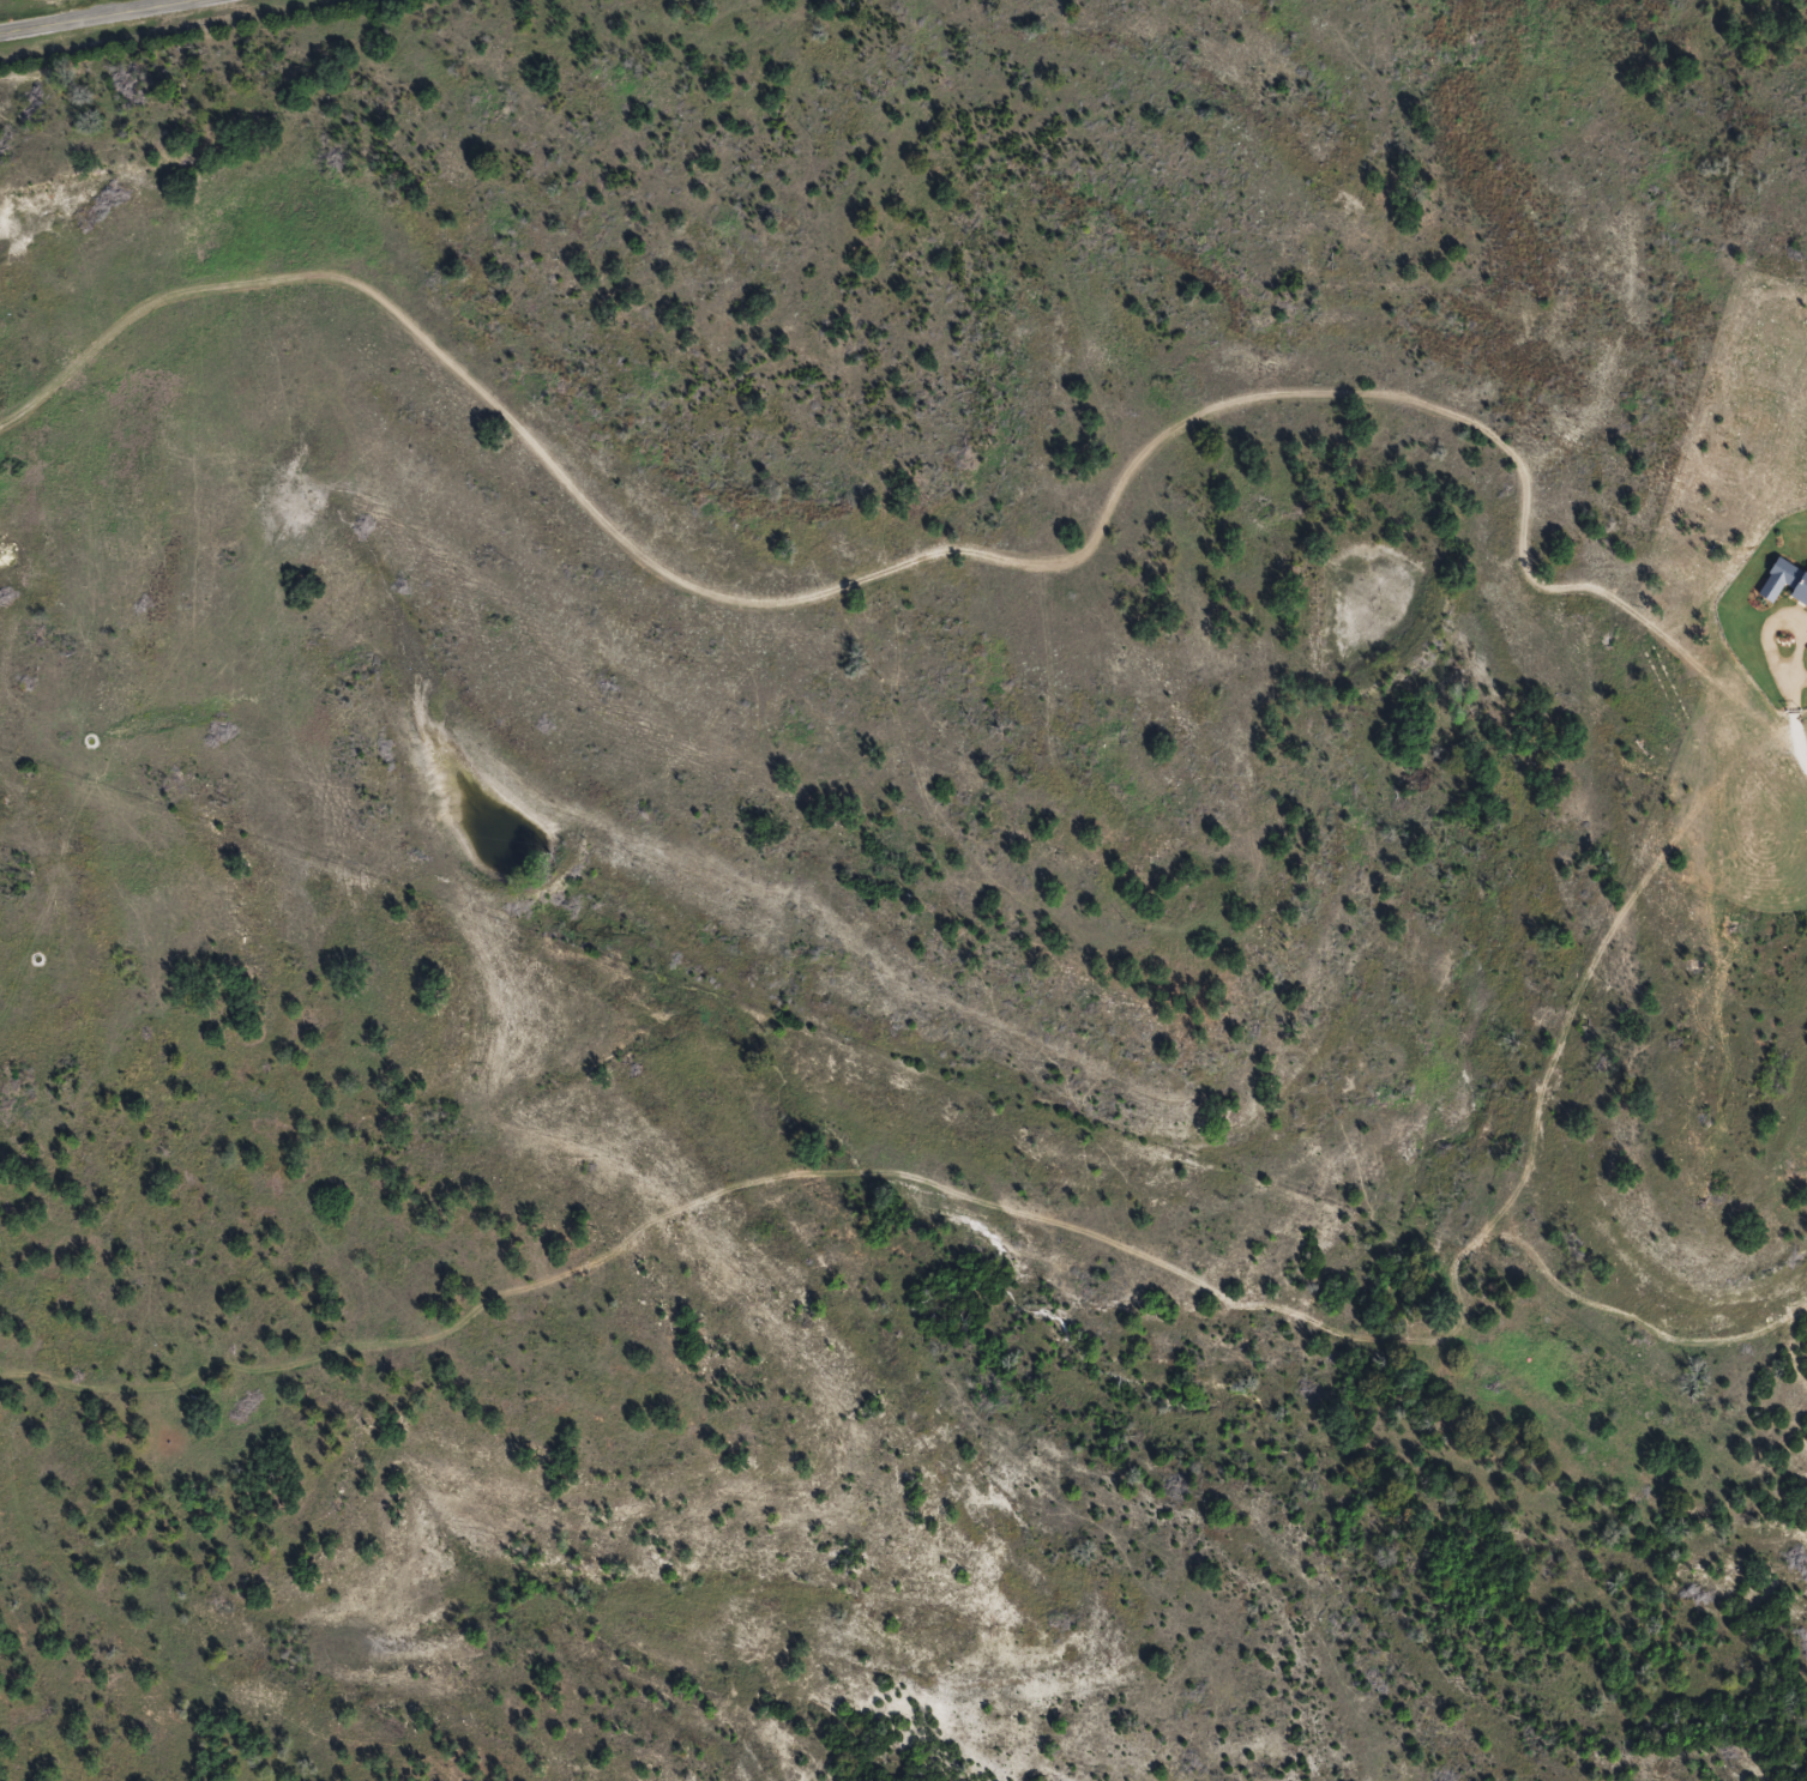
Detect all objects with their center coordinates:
road: (98, 17)

